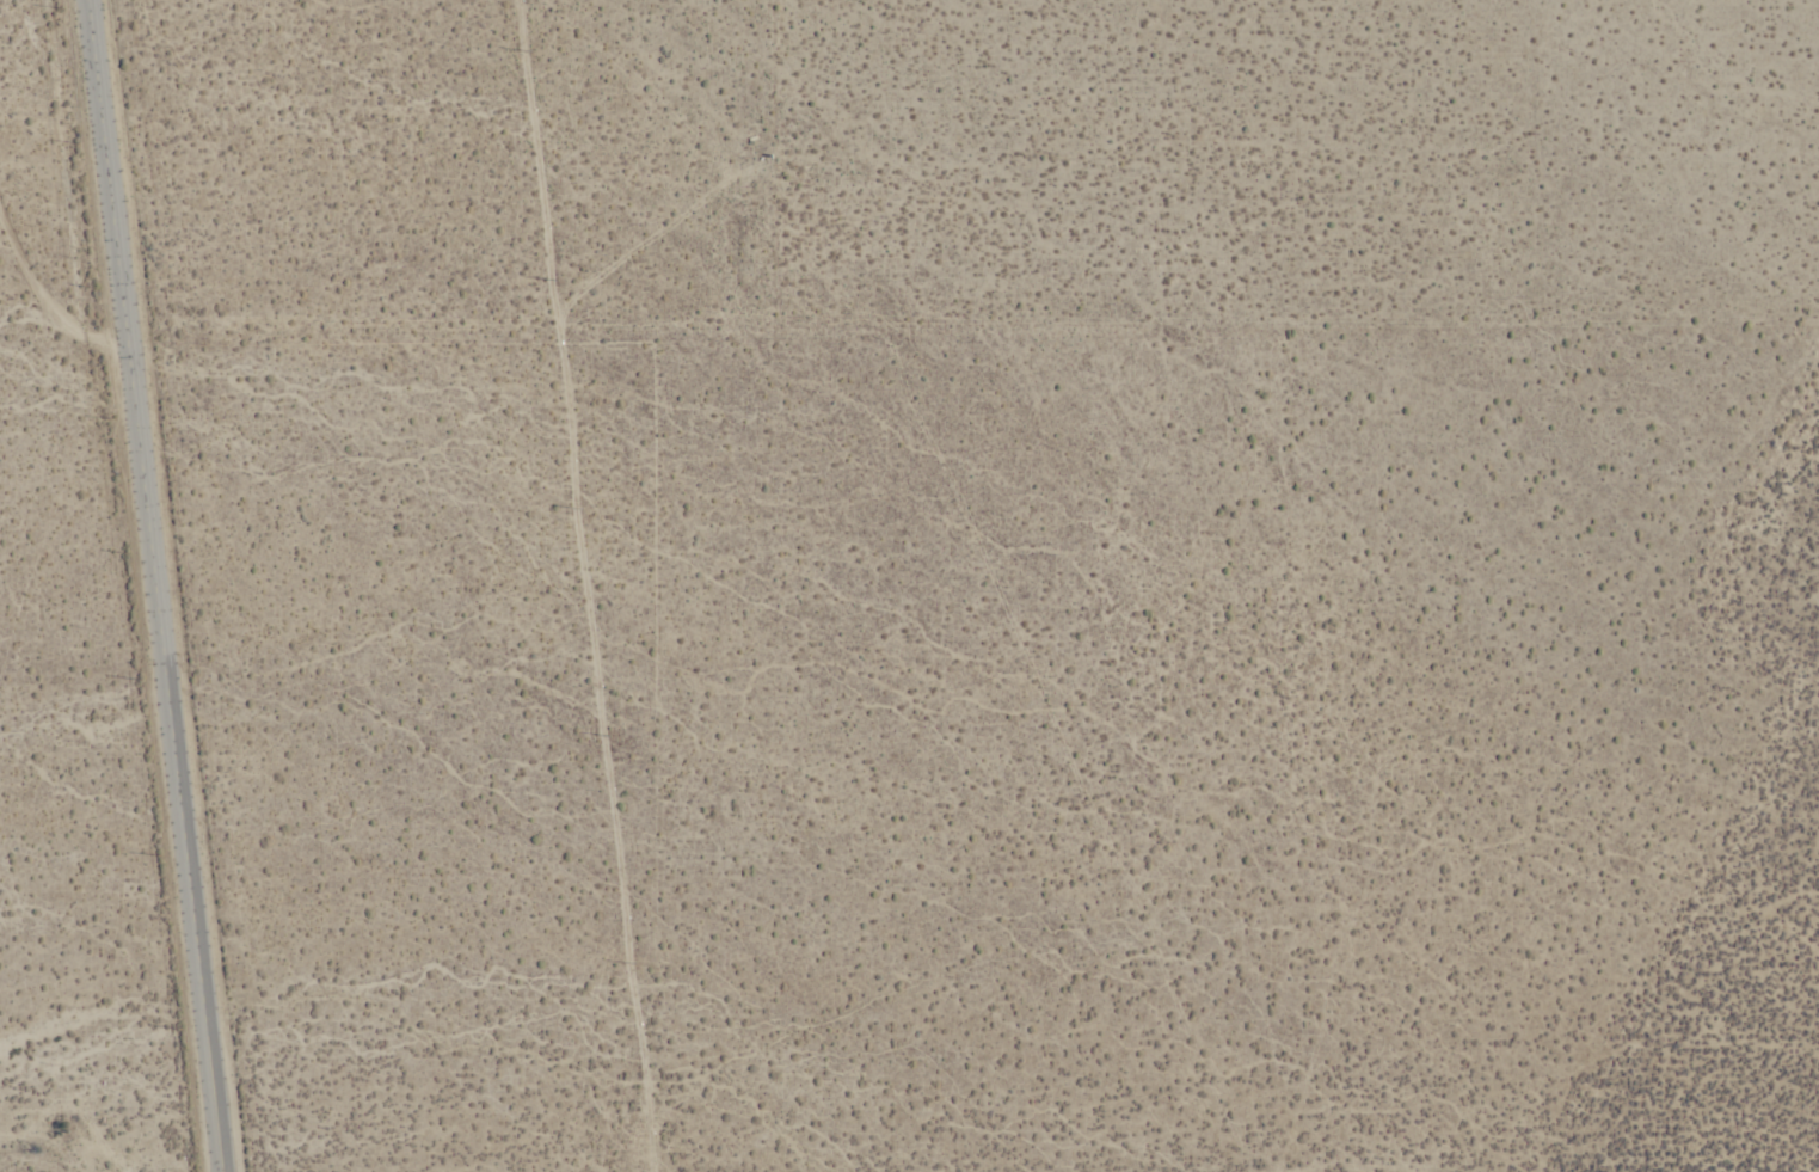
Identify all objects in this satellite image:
road: (49, 281)
road: (468, 318)
road: (161, 585)
road: (583, 585)

